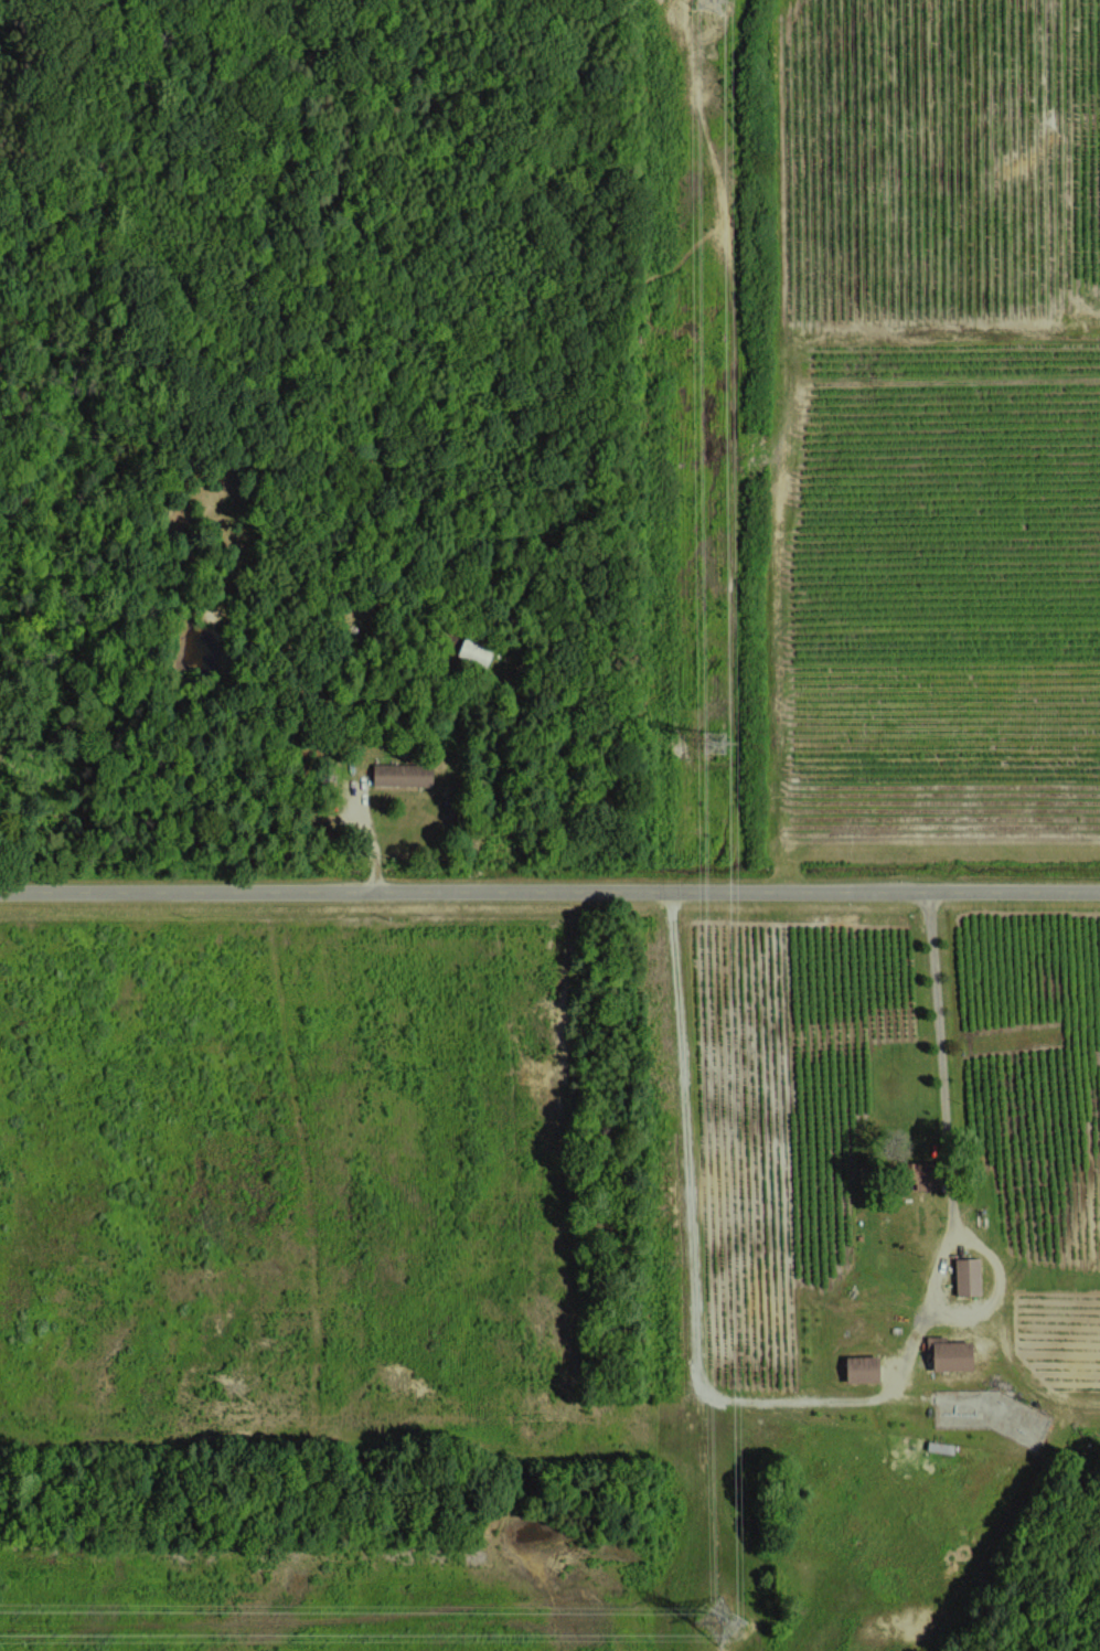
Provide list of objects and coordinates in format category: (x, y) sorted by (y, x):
building: (477, 652)
power tower: (712, 742)
building: (401, 774)
road: (549, 892)
road: (951, 1194)
building: (965, 1276)
road: (693, 1327)
building: (948, 1354)
building: (859, 1368)
road: (949, 1377)
power tower: (717, 1623)

